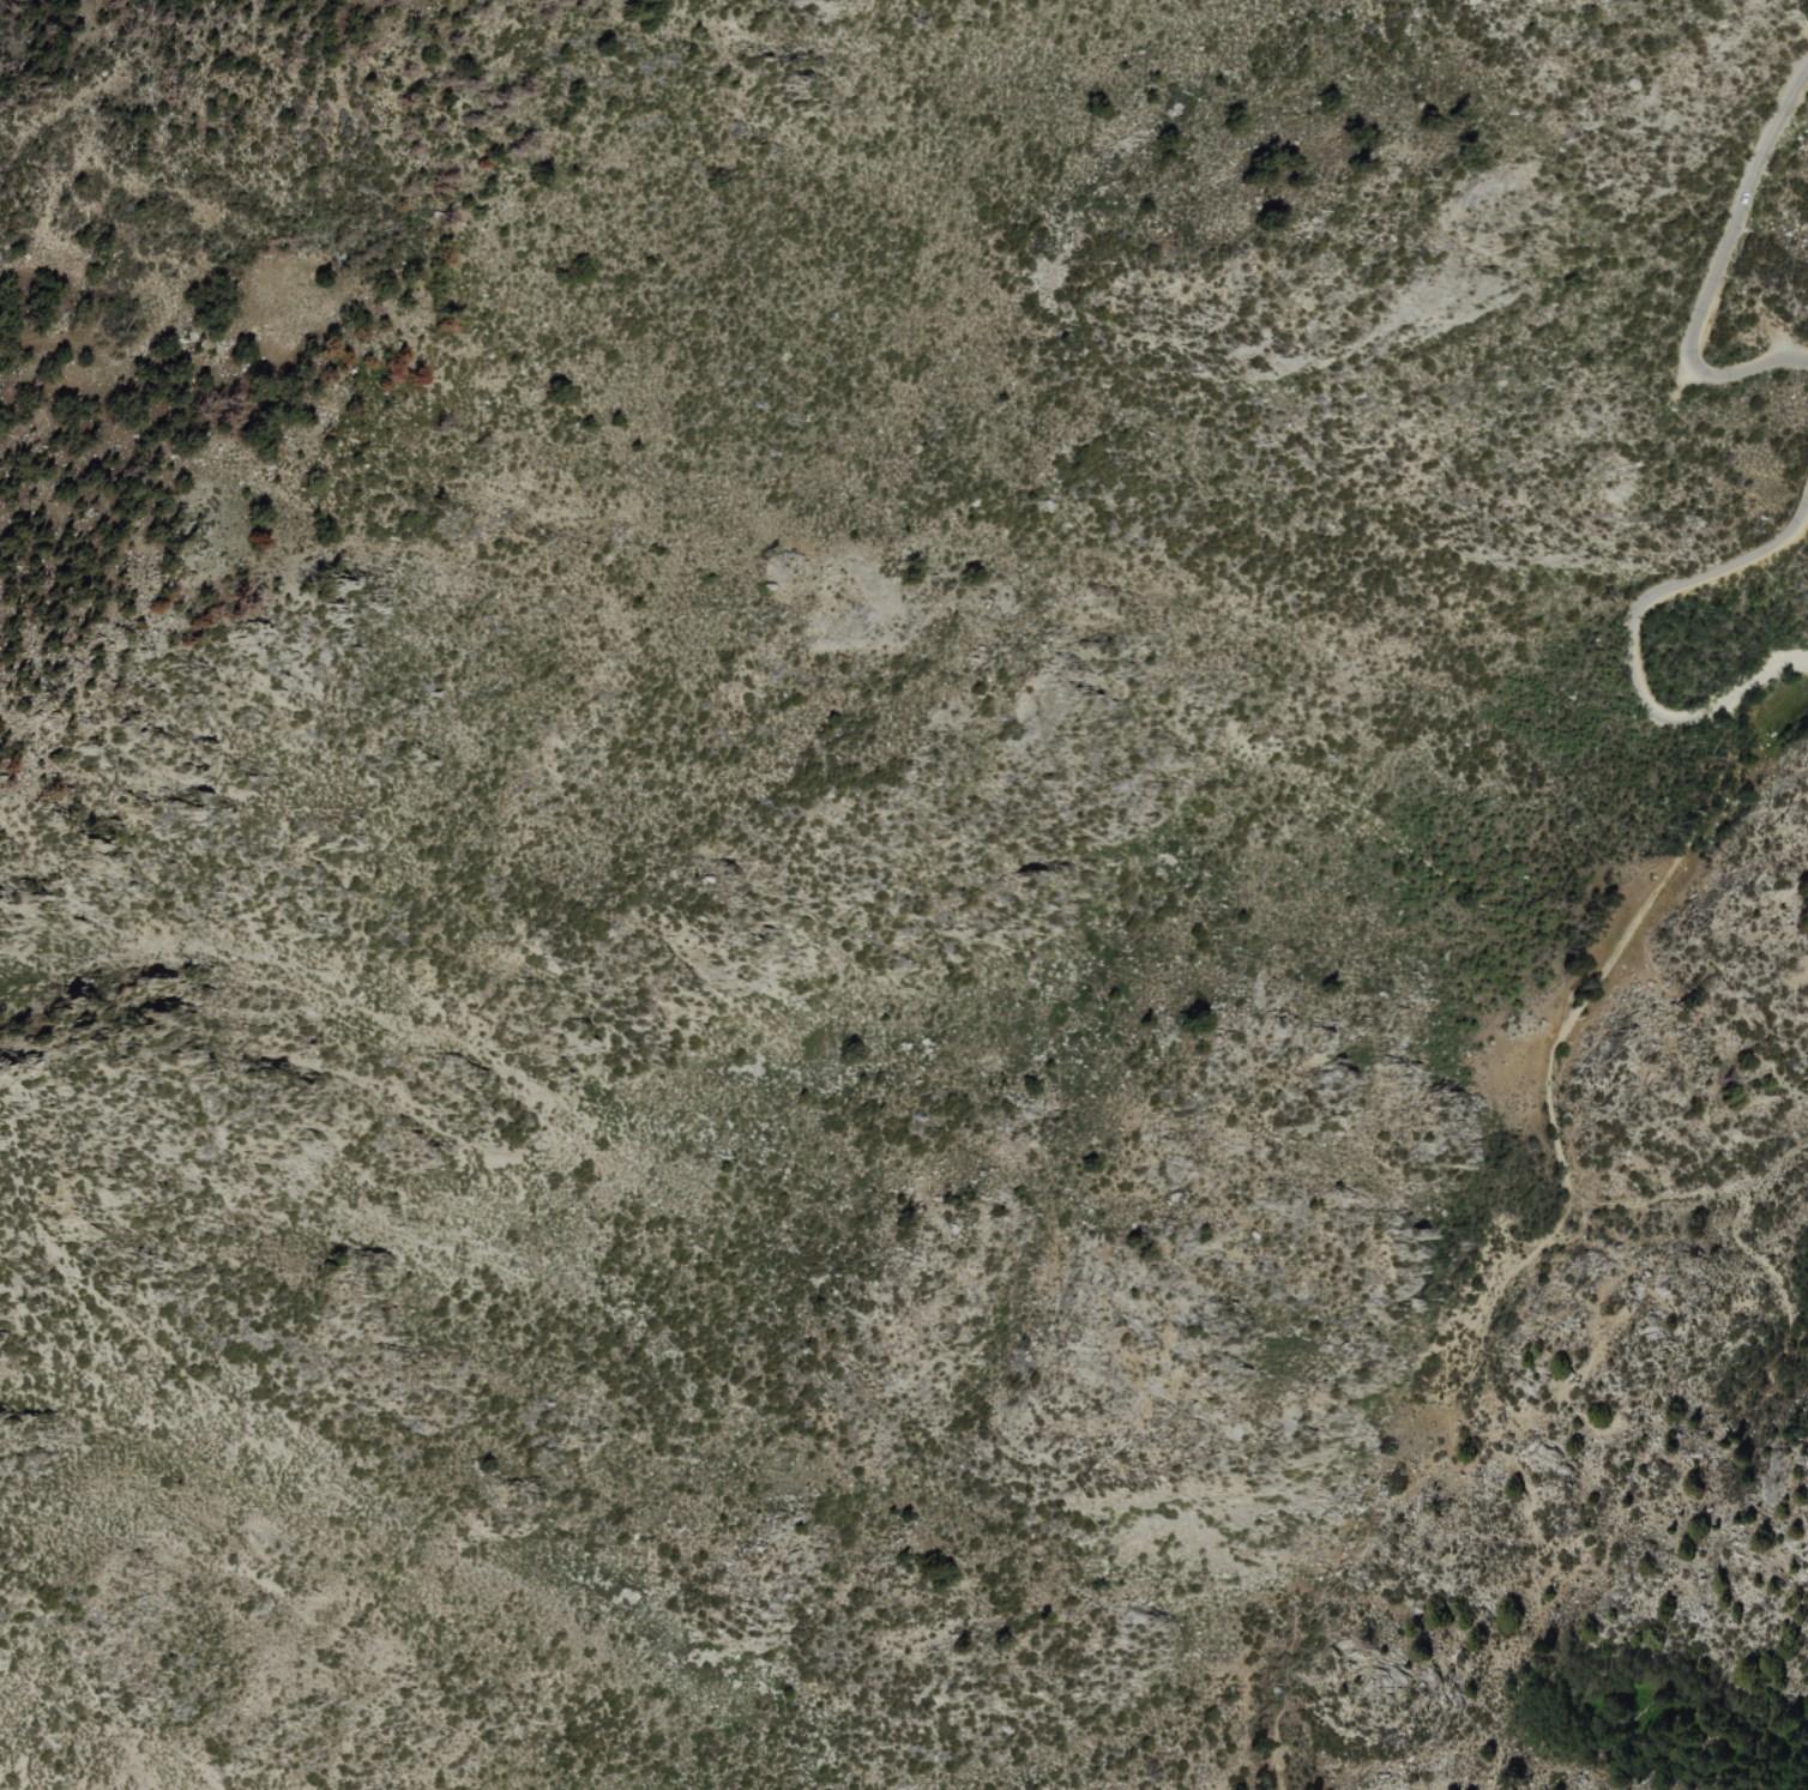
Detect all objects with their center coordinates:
road: (1717, 277)
road: (1635, 640)
road: (1578, 1007)
road: (1348, 1541)

